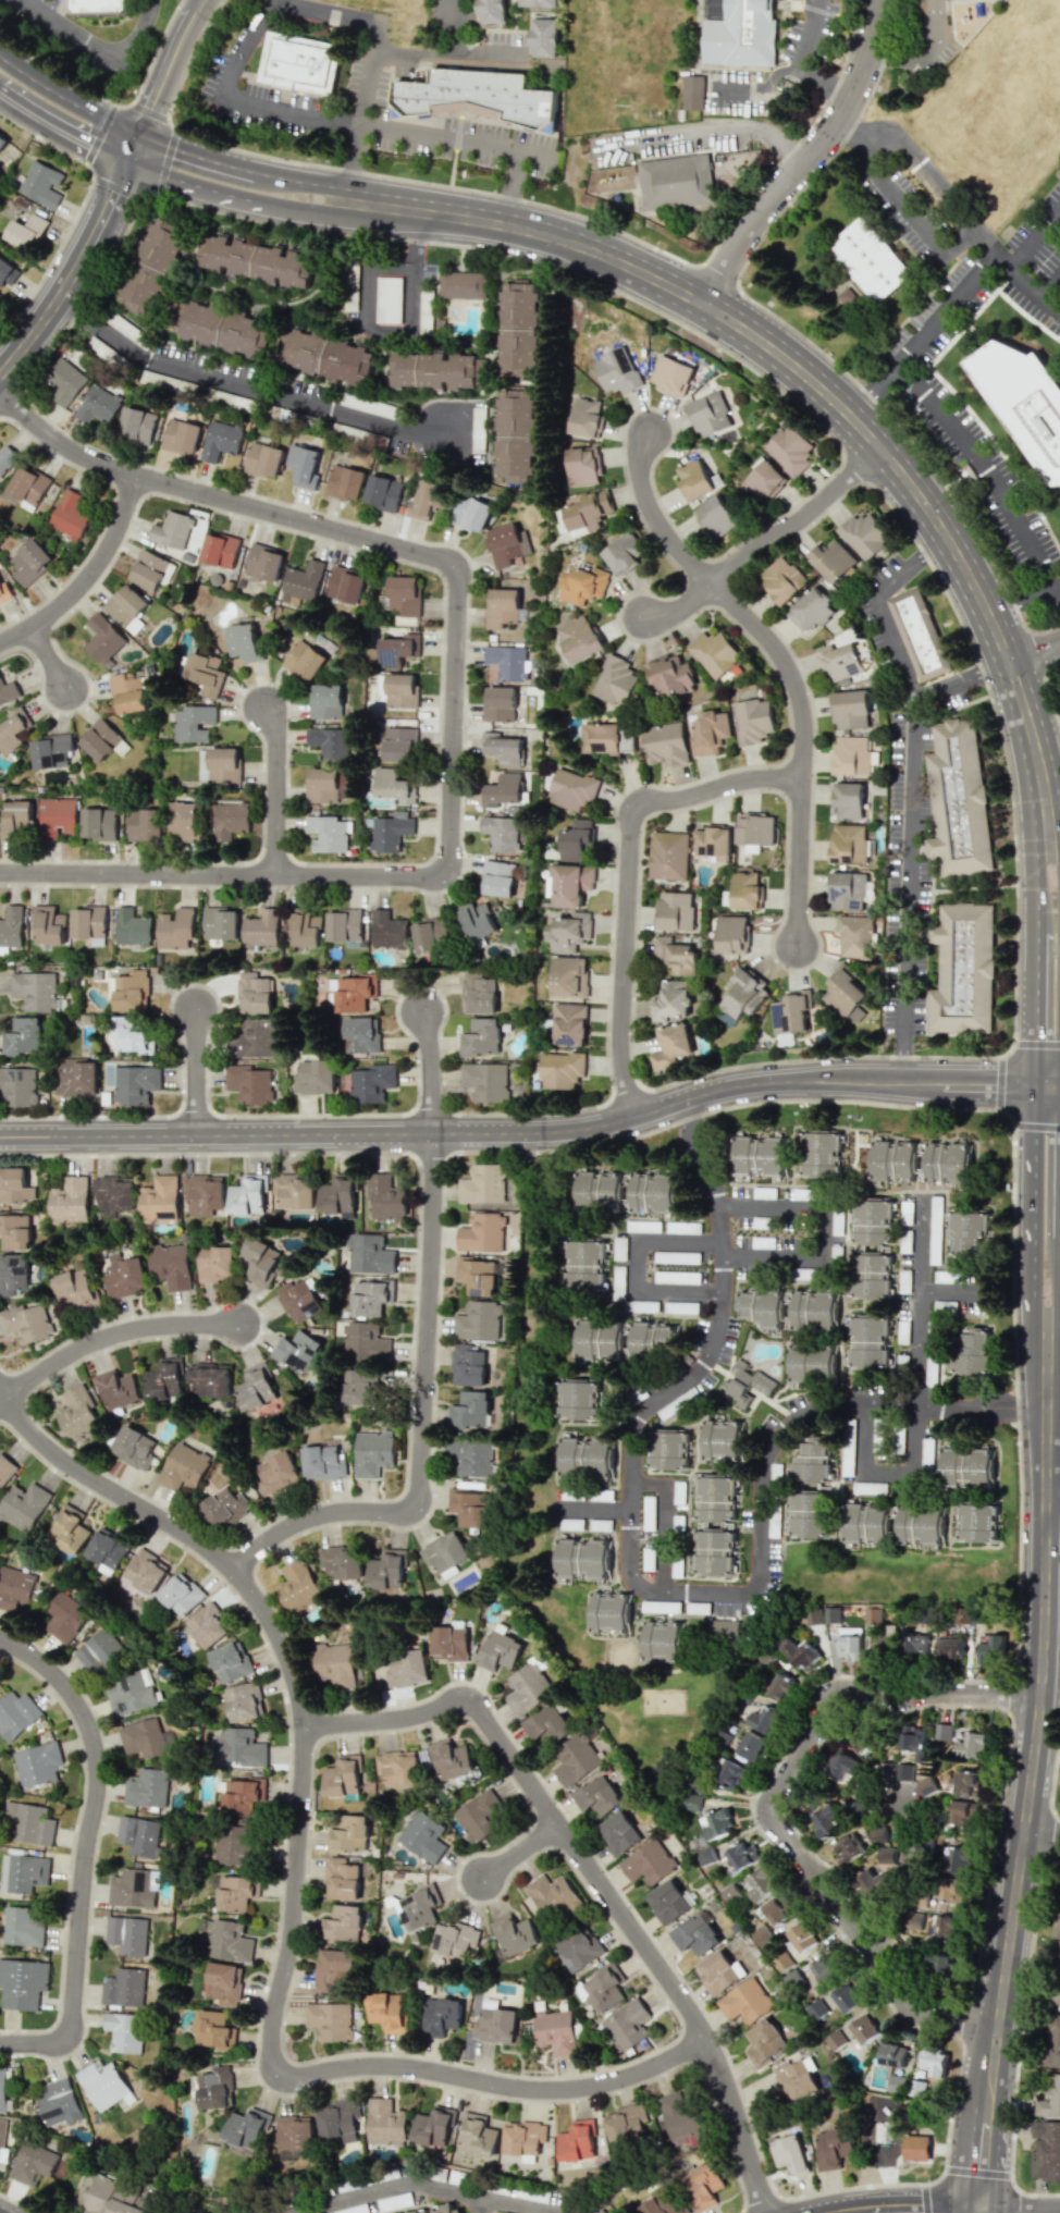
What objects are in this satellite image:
building: (538, 2)
building: (102, 7)
building: (491, 10)
road: (819, 11)
road: (337, 13)
road: (528, 21)
road: (70, 28)
road: (488, 29)
road: (136, 34)
building: (742, 35)
building: (543, 37)
road: (922, 51)
road: (441, 52)
road: (485, 53)
road: (804, 62)
building: (299, 64)
road: (172, 65)
building: (692, 91)
building: (478, 96)
road: (69, 98)
road: (113, 103)
road: (365, 113)
road: (335, 119)
road: (843, 131)
road: (63, 132)
road: (700, 132)
traffic signals: (143, 135)
building: (2, 139)
road: (136, 149)
road: (453, 150)
road: (196, 155)
road: (808, 158)
traffic signals: (131, 164)
road: (924, 168)
road: (303, 180)
building: (675, 181)
building: (40, 184)
road: (193, 187)
road: (511, 189)
road: (523, 200)
road: (904, 207)
road: (305, 212)
building: (25, 232)
road: (1033, 237)
road: (984, 245)
building: (870, 259)
building: (256, 260)
road: (1000, 260)
parking lot: (1035, 262)
building: (153, 265)
road: (411, 270)
building: (7, 271)
road: (75, 282)
building: (463, 284)
road: (1050, 284)
road: (1032, 288)
road: (366, 298)
building: (389, 299)
building: (223, 328)
building: (518, 328)
road: (797, 333)
building: (328, 357)
building: (439, 369)
building: (616, 371)
building: (670, 374)
building: (65, 381)
road: (227, 383)
road: (825, 386)
road: (875, 390)
building: (1023, 399)
building: (98, 404)
building: (367, 405)
building: (710, 415)
road: (941, 417)
building: (586, 418)
building: (137, 423)
parking lot: (970, 430)
building: (182, 435)
building: (515, 435)
building: (221, 440)
building: (790, 448)
building: (7, 457)
building: (264, 459)
building: (304, 466)
building: (583, 466)
building: (693, 479)
building: (763, 481)
building: (346, 482)
building: (28, 487)
building: (383, 493)
building: (426, 500)
building: (588, 511)
building: (471, 513)
building: (70, 515)
building: (715, 516)
building: (172, 530)
road: (764, 534)
building: (864, 534)
building: (507, 544)
building: (220, 550)
building: (624, 553)
building: (833, 560)
building: (30, 561)
building: (263, 562)
building: (149, 570)
road: (88, 578)
building: (782, 579)
building: (303, 582)
building: (346, 585)
building: (582, 585)
building: (4, 592)
building: (402, 594)
road: (1021, 600)
building: (126, 604)
building: (502, 606)
building: (811, 610)
building: (406, 620)
building: (920, 634)
building: (580, 638)
building: (103, 639)
building: (245, 641)
building: (398, 650)
road: (1034, 651)
building: (714, 653)
road: (50, 659)
building: (305, 660)
building: (507, 662)
road: (782, 662)
building: (841, 663)
building: (205, 673)
building: (670, 676)
building: (616, 680)
road: (958, 680)
building: (400, 690)
building: (8, 691)
building: (128, 692)
road: (454, 693)
road: (1047, 694)
building: (326, 702)
building: (500, 704)
building: (851, 710)
building: (752, 721)
building: (194, 723)
building: (13, 729)
building: (708, 733)
building: (602, 738)
building: (103, 740)
building: (330, 743)
building: (397, 743)
building: (665, 745)
building: (52, 750)
building: (506, 750)
building: (851, 754)
building: (222, 765)
building: (322, 785)
building: (394, 785)
road: (912, 786)
road: (276, 788)
building: (505, 788)
building: (572, 788)
building: (957, 798)
building: (848, 800)
building: (58, 817)
building: (230, 820)
building: (185, 821)
building: (99, 824)
building: (145, 824)
building: (754, 829)
building: (390, 831)
building: (328, 833)
building: (501, 833)
building: (577, 840)
building: (712, 840)
building: (849, 844)
road: (1055, 850)
building: (668, 855)
building: (497, 878)
road: (626, 880)
building: (572, 884)
building: (745, 890)
building: (848, 890)
building: (675, 910)
building: (476, 920)
building: (88, 922)
building: (220, 923)
building: (49, 924)
building: (344, 925)
building: (11, 926)
building: (133, 927)
building: (175, 929)
building: (261, 929)
building: (306, 929)
building: (387, 930)
building: (569, 932)
building: (430, 934)
building: (731, 934)
building: (854, 935)
building: (675, 956)
road: (1036, 959)
building: (962, 969)
building: (568, 976)
building: (35, 991)
building: (132, 991)
building: (355, 992)
building: (255, 993)
building: (478, 993)
building: (845, 993)
building: (744, 994)
building: (673, 1000)
building: (790, 1011)
building: (569, 1023)
building: (361, 1034)
building: (23, 1036)
building: (133, 1036)
building: (480, 1037)
building: (254, 1041)
building: (671, 1046)
building: (560, 1069)
road: (196, 1072)
building: (77, 1077)
building: (315, 1077)
building: (491, 1081)
building: (249, 1083)
building: (371, 1083)
building: (135, 1084)
building: (19, 1086)
road: (533, 1131)
building: (818, 1153)
building: (760, 1156)
building: (893, 1160)
building: (949, 1164)
building: (14, 1185)
building: (482, 1185)
building: (294, 1191)
building: (604, 1191)
building: (653, 1193)
building: (113, 1194)
building: (204, 1194)
building: (248, 1195)
building: (338, 1196)
building: (385, 1196)
building: (160, 1198)
building: (70, 1201)
road: (1027, 1207)
building: (872, 1220)
building: (643, 1226)
building: (905, 1227)
road: (824, 1229)
building: (15, 1232)
building: (481, 1232)
building: (967, 1232)
road: (1059, 1232)
building: (762, 1242)
building: (619, 1247)
building: (369, 1253)
building: (261, 1261)
building: (217, 1263)
road: (633, 1265)
building: (172, 1266)
building: (584, 1266)
building: (13, 1274)
building: (871, 1275)
building: (125, 1276)
building: (479, 1276)
building: (904, 1280)
building: (618, 1281)
road: (1059, 1286)
building: (75, 1291)
building: (371, 1296)
road: (953, 1298)
building: (300, 1300)
road: (919, 1303)
building: (944, 1305)
building: (761, 1306)
building: (814, 1310)
building: (480, 1320)
building: (26, 1323)
road: (112, 1336)
building: (625, 1340)
building: (365, 1341)
building: (868, 1342)
building: (299, 1350)
building: (971, 1350)
road: (422, 1358)
building: (811, 1362)
building: (901, 1362)
building: (469, 1364)
building: (165, 1378)
building: (210, 1379)
building: (743, 1384)
building: (358, 1386)
building: (257, 1387)
building: (120, 1389)
building: (578, 1399)
building: (472, 1409)
road: (981, 1411)
building: (77, 1412)
building: (898, 1439)
building: (722, 1440)
building: (847, 1447)
building: (134, 1448)
building: (667, 1450)
building: (375, 1452)
building: (472, 1455)
building: (586, 1456)
building: (325, 1459)
building: (812, 1463)
building: (966, 1465)
building: (5, 1467)
building: (184, 1467)
building: (276, 1473)
building: (678, 1492)
building: (715, 1497)
building: (24, 1505)
building: (470, 1507)
building: (225, 1508)
road: (1053, 1508)
building: (810, 1514)
building: (866, 1523)
building: (975, 1523)
road: (661, 1524)
building: (920, 1525)
building: (70, 1529)
building: (109, 1550)
building: (444, 1552)
building: (714, 1553)
building: (582, 1559)
building: (341, 1562)
building: (389, 1567)
building: (147, 1570)
building: (298, 1586)
building: (15, 1587)
road: (646, 1588)
building: (182, 1594)
building: (609, 1612)
building: (872, 1614)
building: (65, 1616)
building: (209, 1626)
building: (723, 1630)
building: (451, 1639)
building: (662, 1640)
building: (849, 1643)
building: (885, 1643)
building: (914, 1643)
building: (501, 1647)
building: (950, 1648)
building: (991, 1650)
building: (100, 1651)
building: (800, 1652)
building: (232, 1661)
building: (335, 1664)
building: (406, 1670)
building: (780, 1687)
building: (527, 1688)
building: (132, 1693)
building: (246, 1700)
building: (16, 1713)
building: (764, 1719)
building: (549, 1724)
building: (942, 1731)
building: (143, 1737)
building: (912, 1738)
building: (862, 1743)
building: (972, 1745)
building: (239, 1746)
building: (750, 1746)
building: (452, 1759)
building: (575, 1760)
building: (37, 1763)
building: (398, 1767)
building: (841, 1767)
road: (1034, 1771)
building: (729, 1773)
building: (343, 1776)
building: (966, 1783)
building: (926, 1785)
building: (146, 1787)
building: (242, 1794)
building: (597, 1796)
building: (690, 1802)
road: (767, 1802)
building: (960, 1811)
building: (479, 1816)
building: (826, 1818)
building: (28, 1822)
building: (717, 1824)
road: (1043, 1829)
building: (349, 1833)
building: (618, 1833)
building: (138, 1835)
building: (423, 1836)
building: (234, 1843)
road: (89, 1847)
building: (848, 1847)
road: (1041, 1848)
road: (522, 1851)
building: (740, 1856)
building: (954, 1858)
building: (648, 1862)
building: (883, 1870)
building: (23, 1872)
road: (594, 1872)
building: (342, 1879)
road: (909, 1883)
building: (760, 1884)
road: (294, 1888)
building: (131, 1889)
building: (953, 1890)
building: (235, 1892)
building: (667, 1902)
building: (420, 1906)
building: (777, 1908)
building: (1057, 1917)
building: (914, 1919)
building: (346, 1922)
building: (21, 1927)
building: (945, 1930)
building: (516, 1933)
building: (127, 1934)
building: (695, 1935)
building: (801, 1937)
building: (456, 1939)
building: (227, 1940)
building: (579, 1948)
building: (335, 1965)
building: (940, 1965)
building: (825, 1968)
building: (718, 1971)
building: (1055, 1977)
building: (23, 1982)
building: (225, 1983)
building: (124, 1988)
building: (604, 1989)
building: (846, 1997)
building: (744, 2001)
building: (816, 2008)
building: (387, 2009)
building: (443, 2016)
building: (331, 2020)
building: (495, 2023)
building: (626, 2025)
building: (215, 2029)
building: (864, 2029)
building: (124, 2031)
building: (556, 2031)
building: (835, 2040)
building: (764, 2042)
building: (1051, 2042)
building: (891, 2055)
building: (797, 2079)
building: (896, 2082)
building: (103, 2085)
building: (218, 2088)
building: (2, 2089)
building: (1049, 2099)
building: (59, 2102)
building: (340, 2119)
building: (681, 2119)
building: (385, 2123)
building: (625, 2124)
building: (434, 2127)
building: (247, 2131)
building: (1, 2135)
building: (297, 2136)
building: (478, 2136)
building: (523, 2137)
building: (577, 2140)
building: (833, 2147)
building: (915, 2148)
building: (1045, 2151)
building: (789, 2154)
building: (33, 2162)
road: (395, 2184)
building: (702, 2186)
building: (108, 2197)
building: (662, 2201)
road: (519, 2206)
road: (911, 2208)
road: (1018, 2208)
building: (440, 2209)
road: (974, 2210)
road: (977, 2210)

